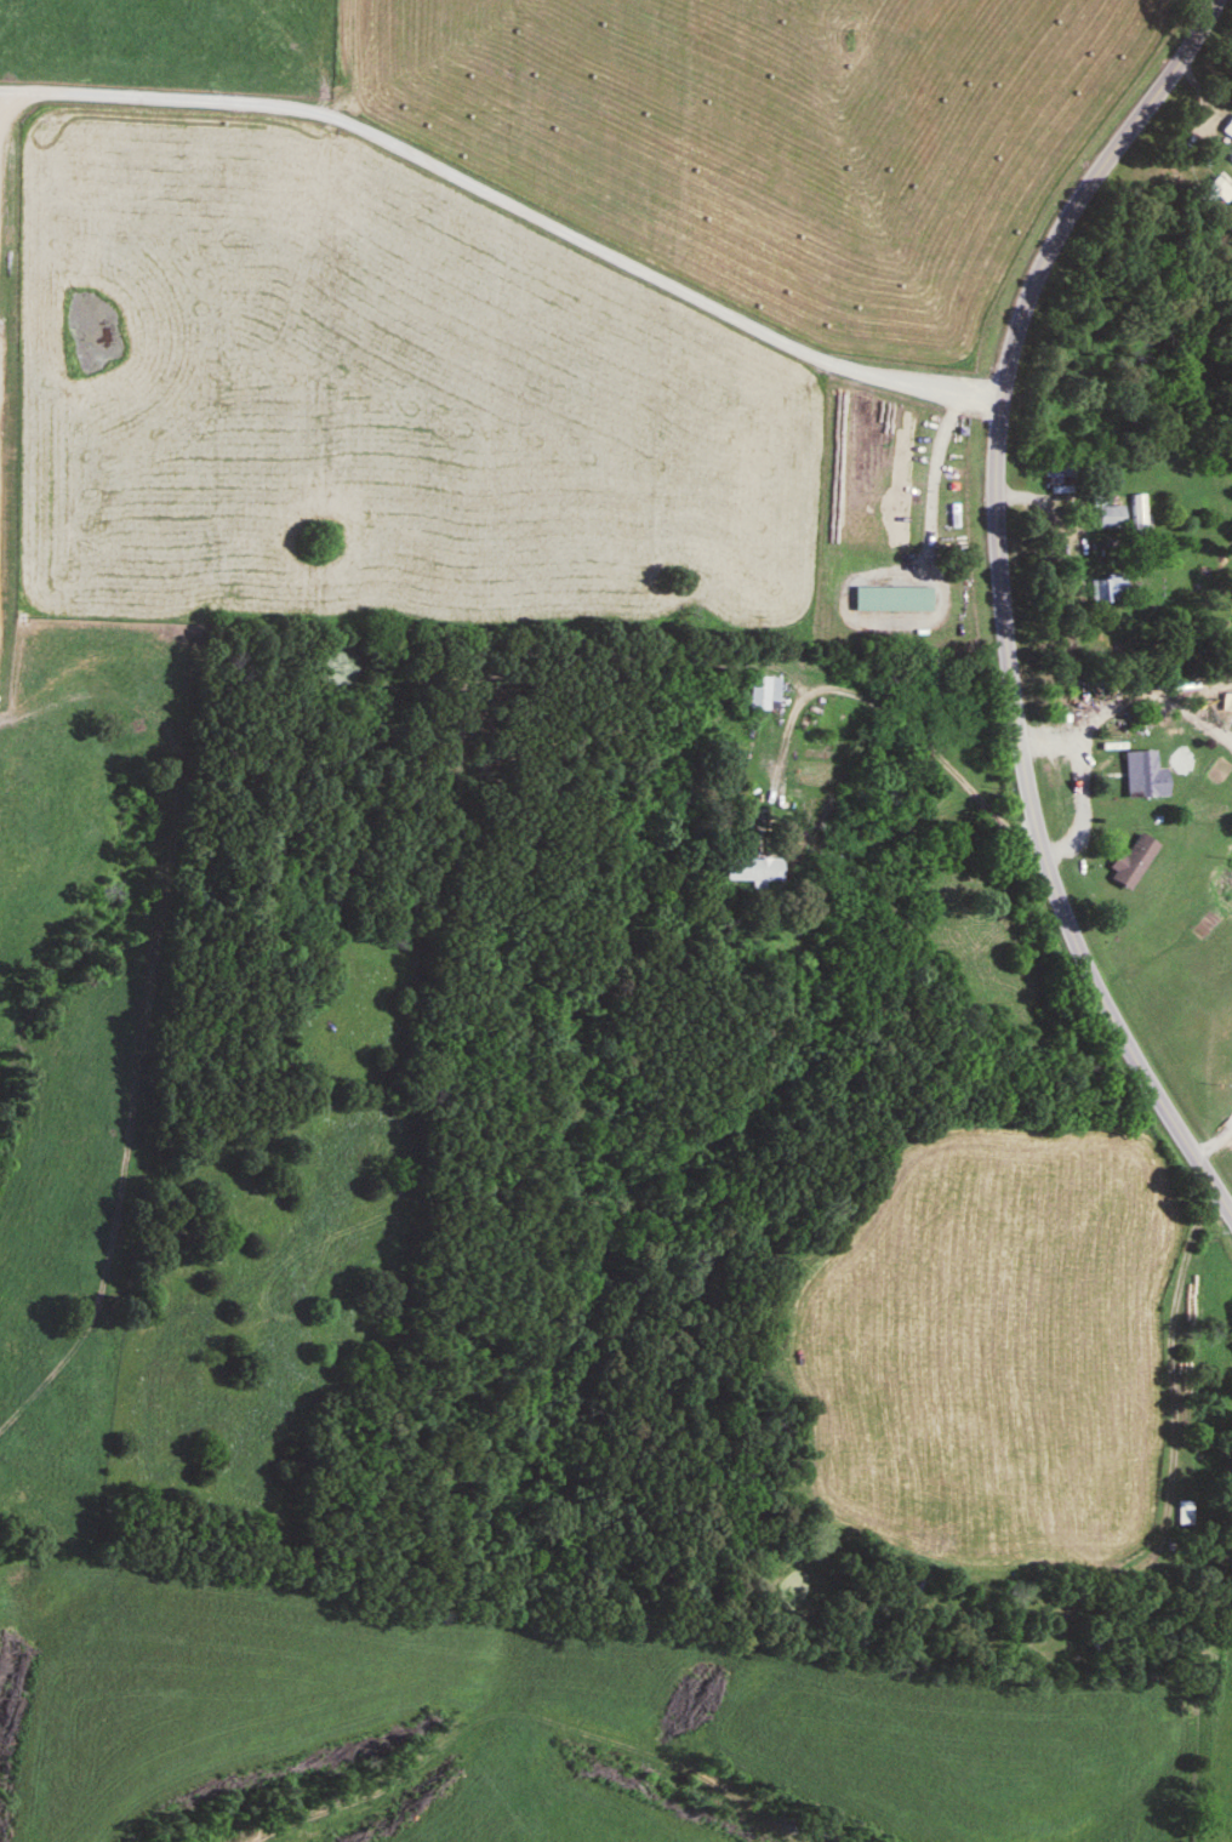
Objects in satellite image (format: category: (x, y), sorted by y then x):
building: (1227, 129)
building: (1214, 194)
road: (511, 204)
road: (932, 464)
building: (1057, 475)
building: (1111, 519)
building: (1110, 592)
building: (891, 601)
road: (1000, 608)
building: (888, 682)
road: (890, 692)
building: (763, 695)
building: (1147, 779)
building: (1135, 863)
building: (753, 872)

